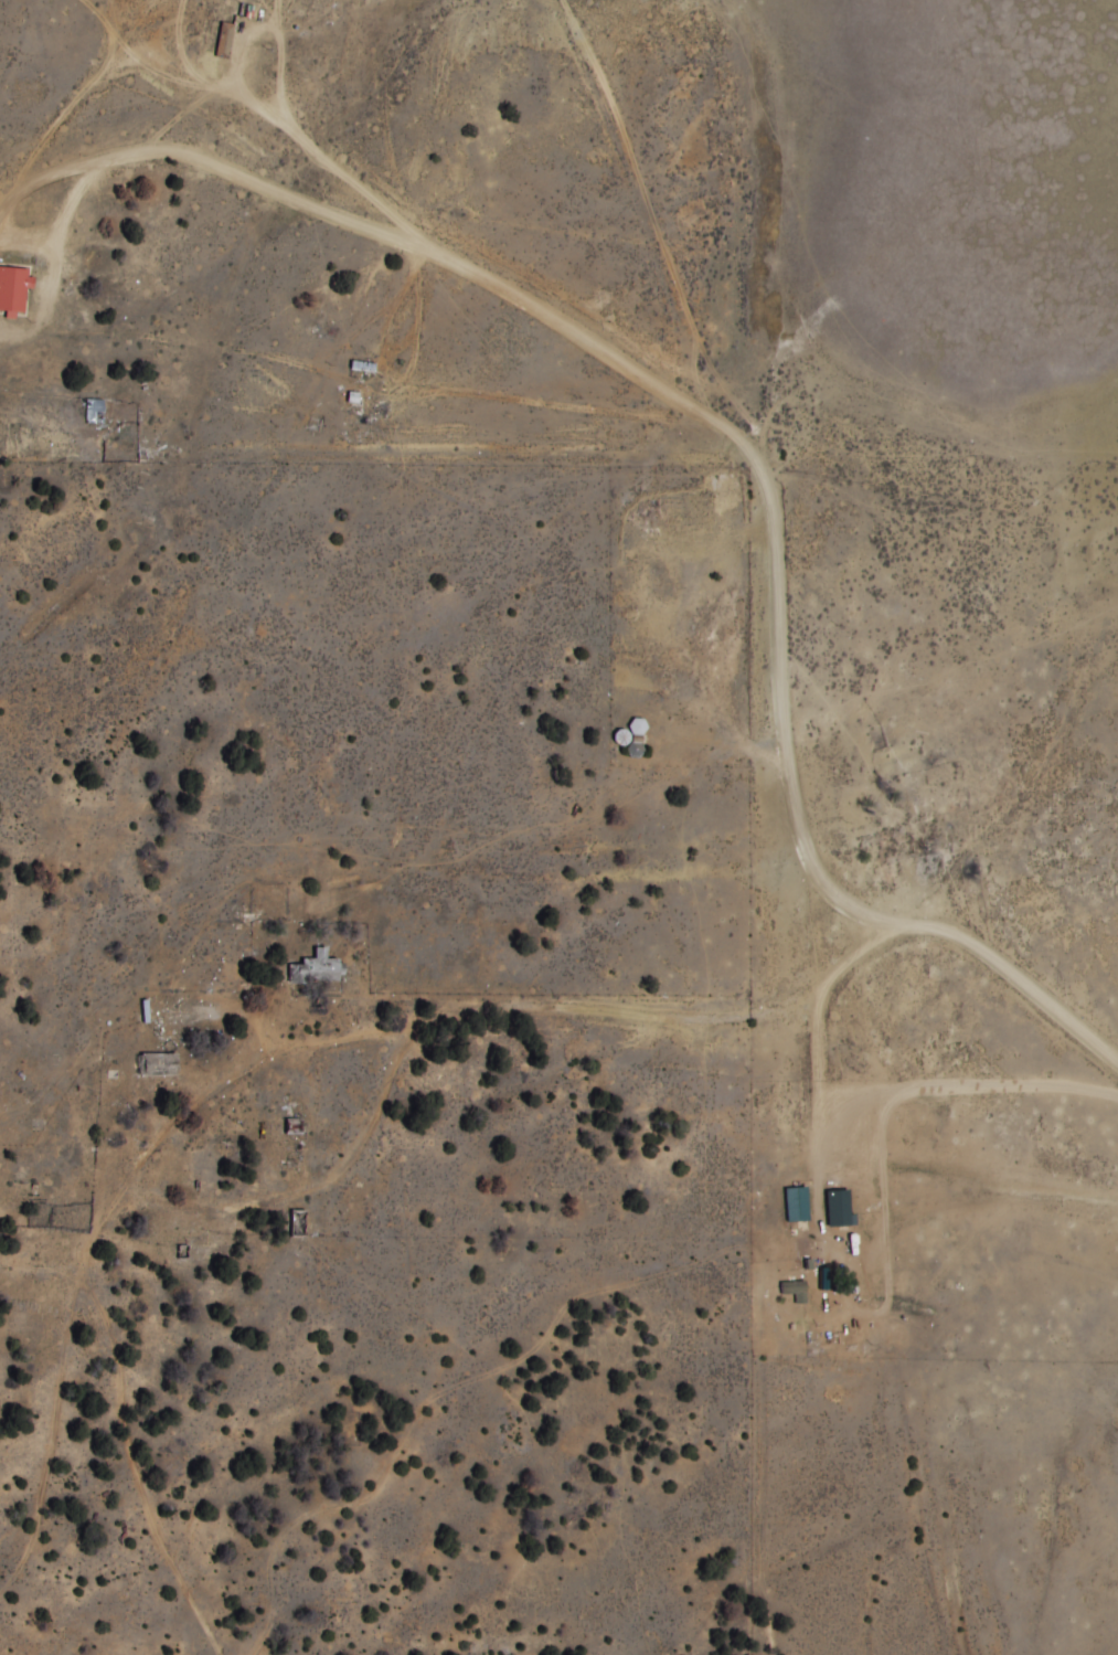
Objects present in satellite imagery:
building: (223, 40)
road: (432, 250)
road: (672, 269)
building: (13, 288)
building: (361, 367)
building: (94, 412)
road: (782, 688)
road: (845, 901)
building: (315, 969)
road: (822, 983)
road: (1023, 985)
road: (366, 1014)
building: (174, 1025)
road: (385, 1031)
road: (270, 1037)
building: (156, 1063)
building: (291, 1125)
road: (941, 1171)
road: (993, 1203)
building: (796, 1205)
road: (867, 1205)
building: (839, 1209)
building: (297, 1223)
building: (803, 1252)
road: (39, 1267)
building: (845, 1277)
building: (899, 1288)
building: (794, 1290)

